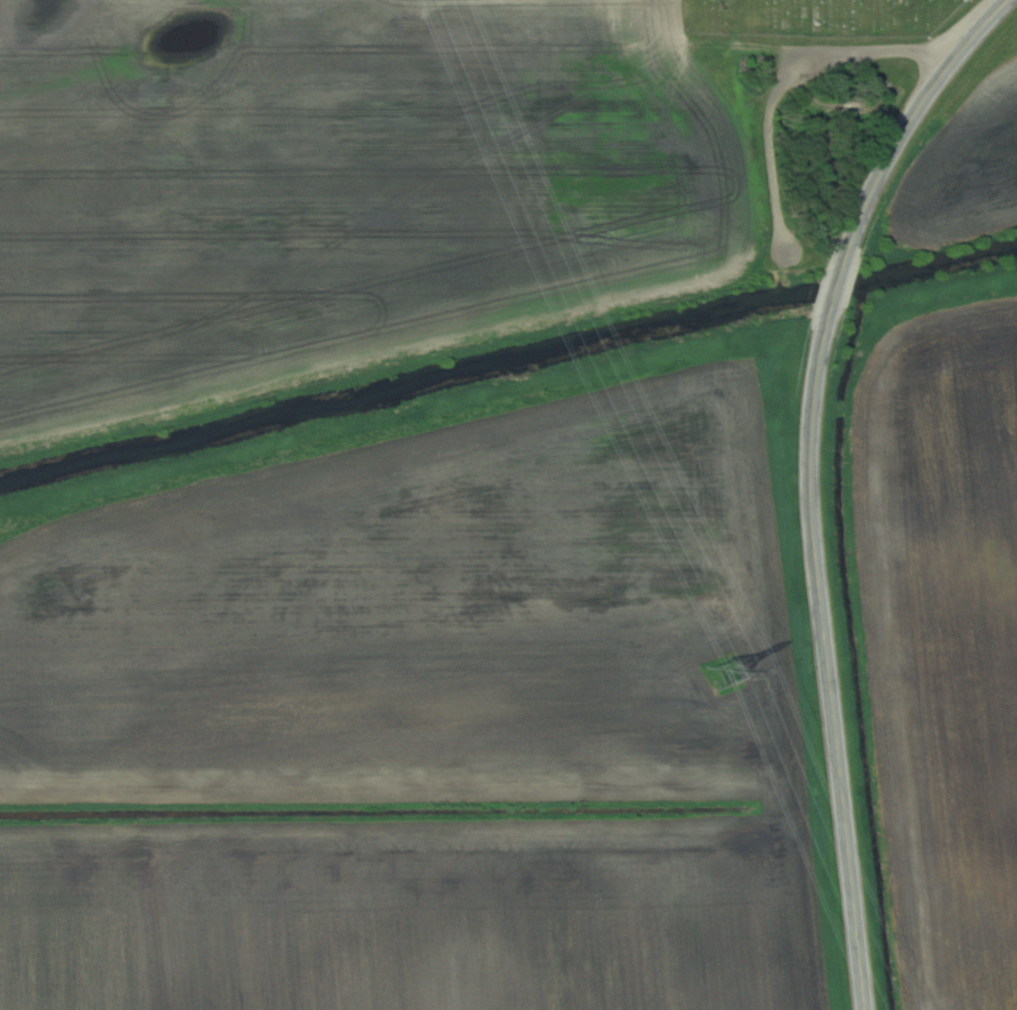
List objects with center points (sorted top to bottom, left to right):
road: (789, 77)
road: (923, 95)
road: (833, 290)
power tower: (727, 675)
road: (828, 694)

